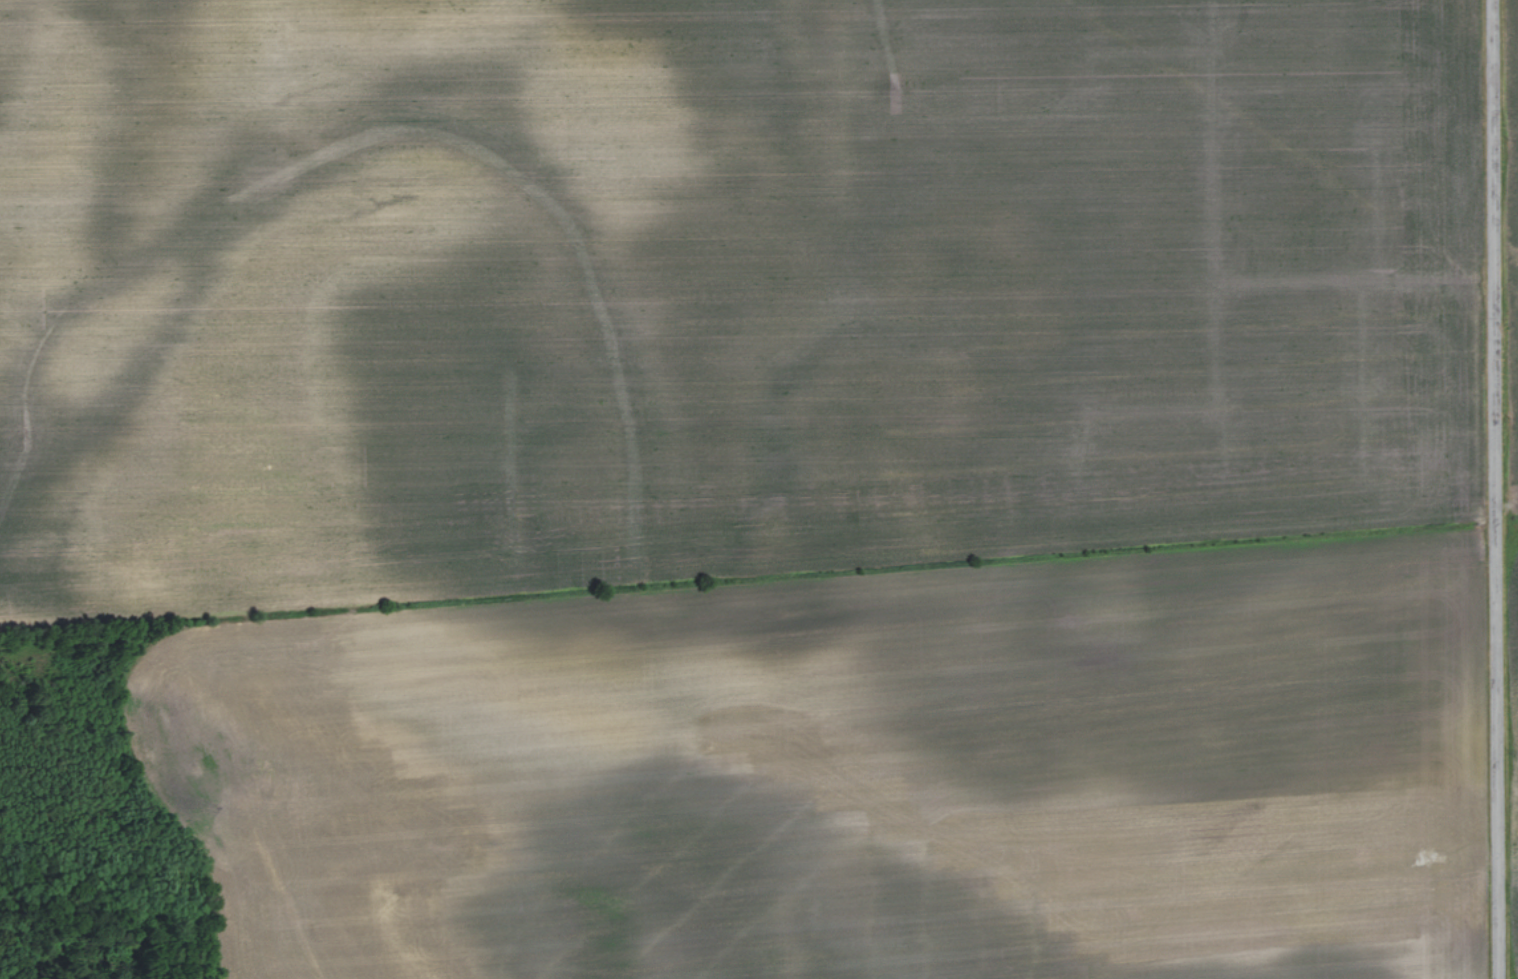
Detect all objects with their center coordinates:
road: (1496, 489)

